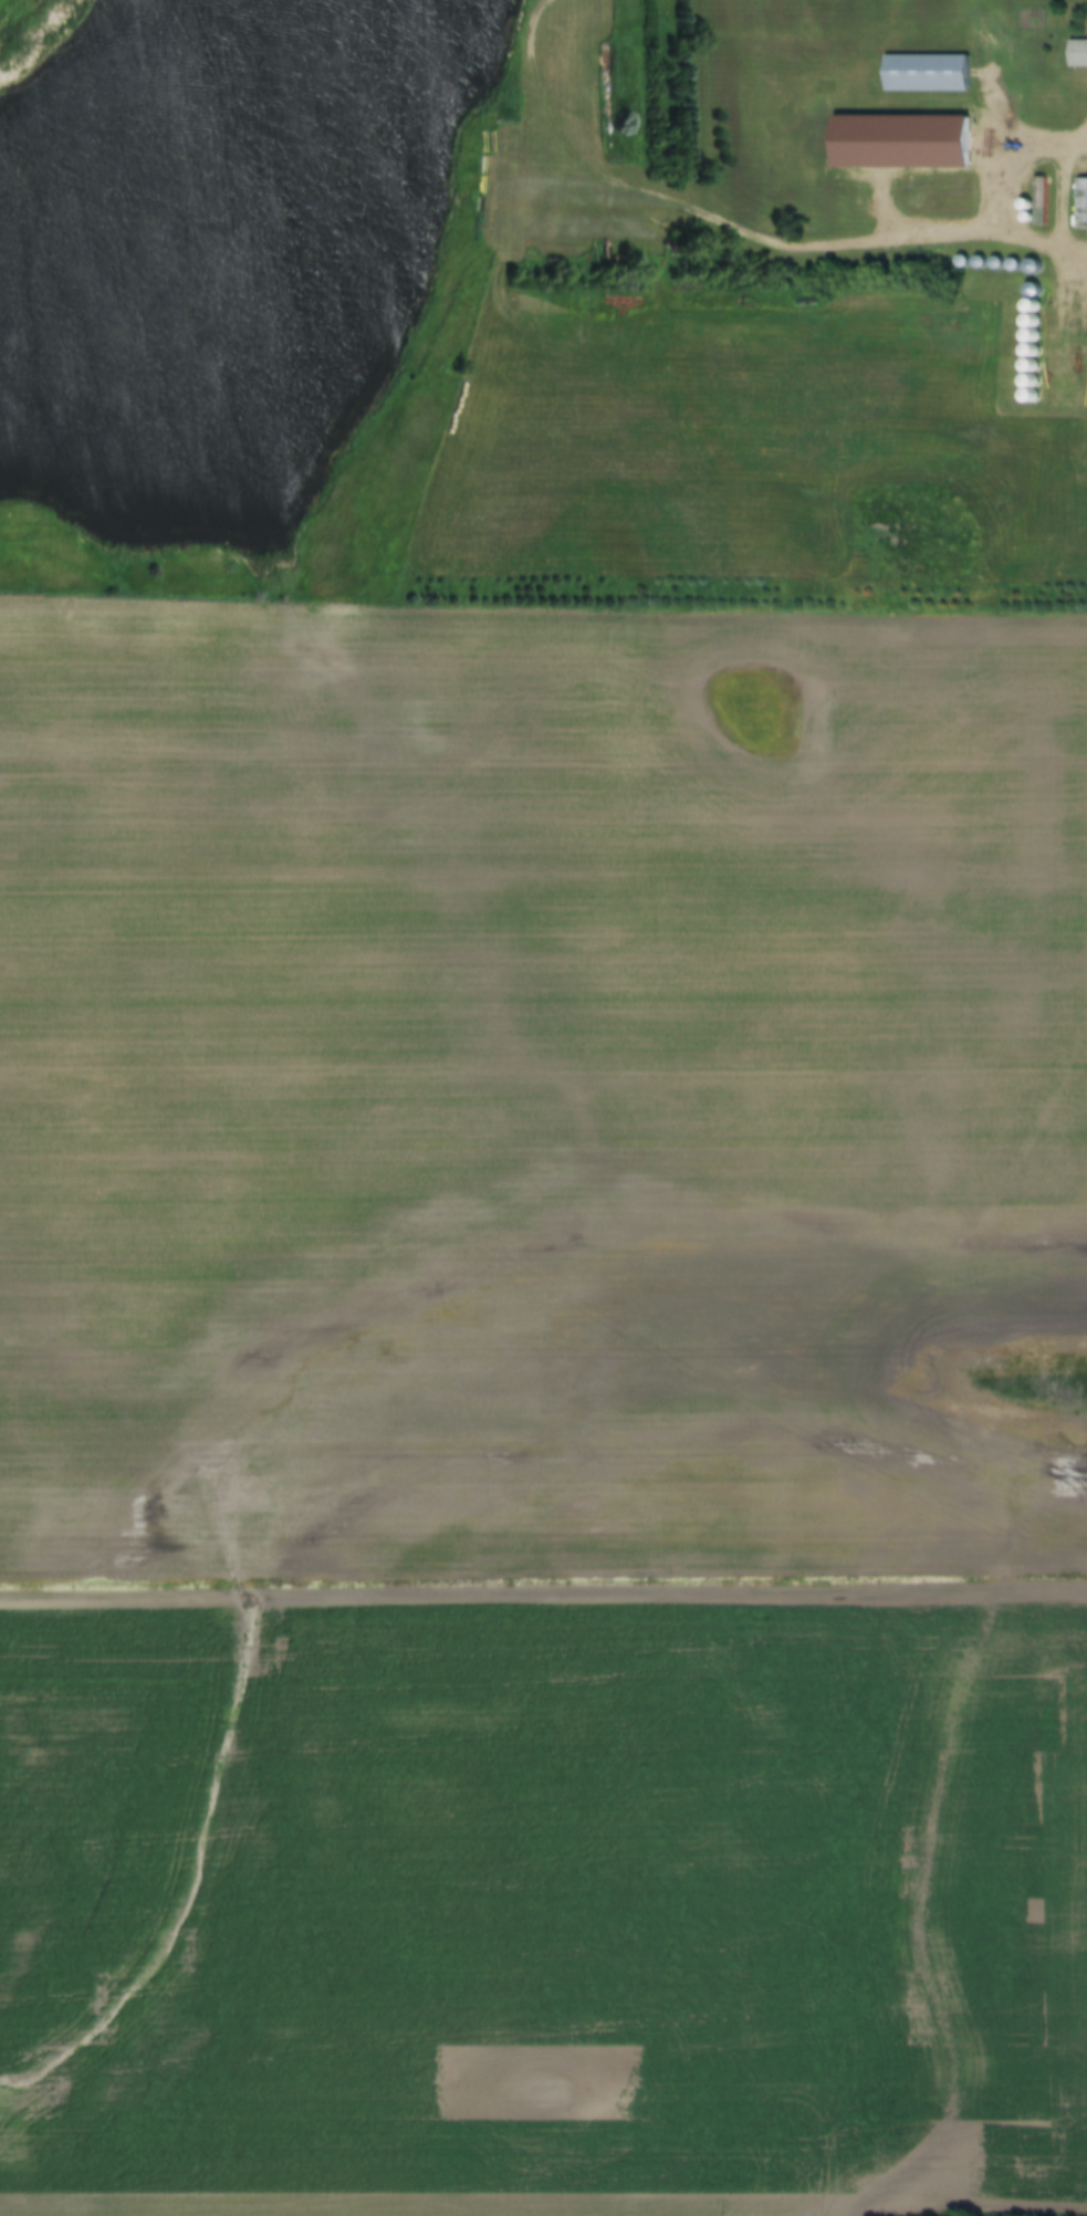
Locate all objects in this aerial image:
building: (1075, 54)
building: (922, 73)
road: (999, 201)
building: (1078, 203)
road: (700, 213)
road: (543, 1589)

